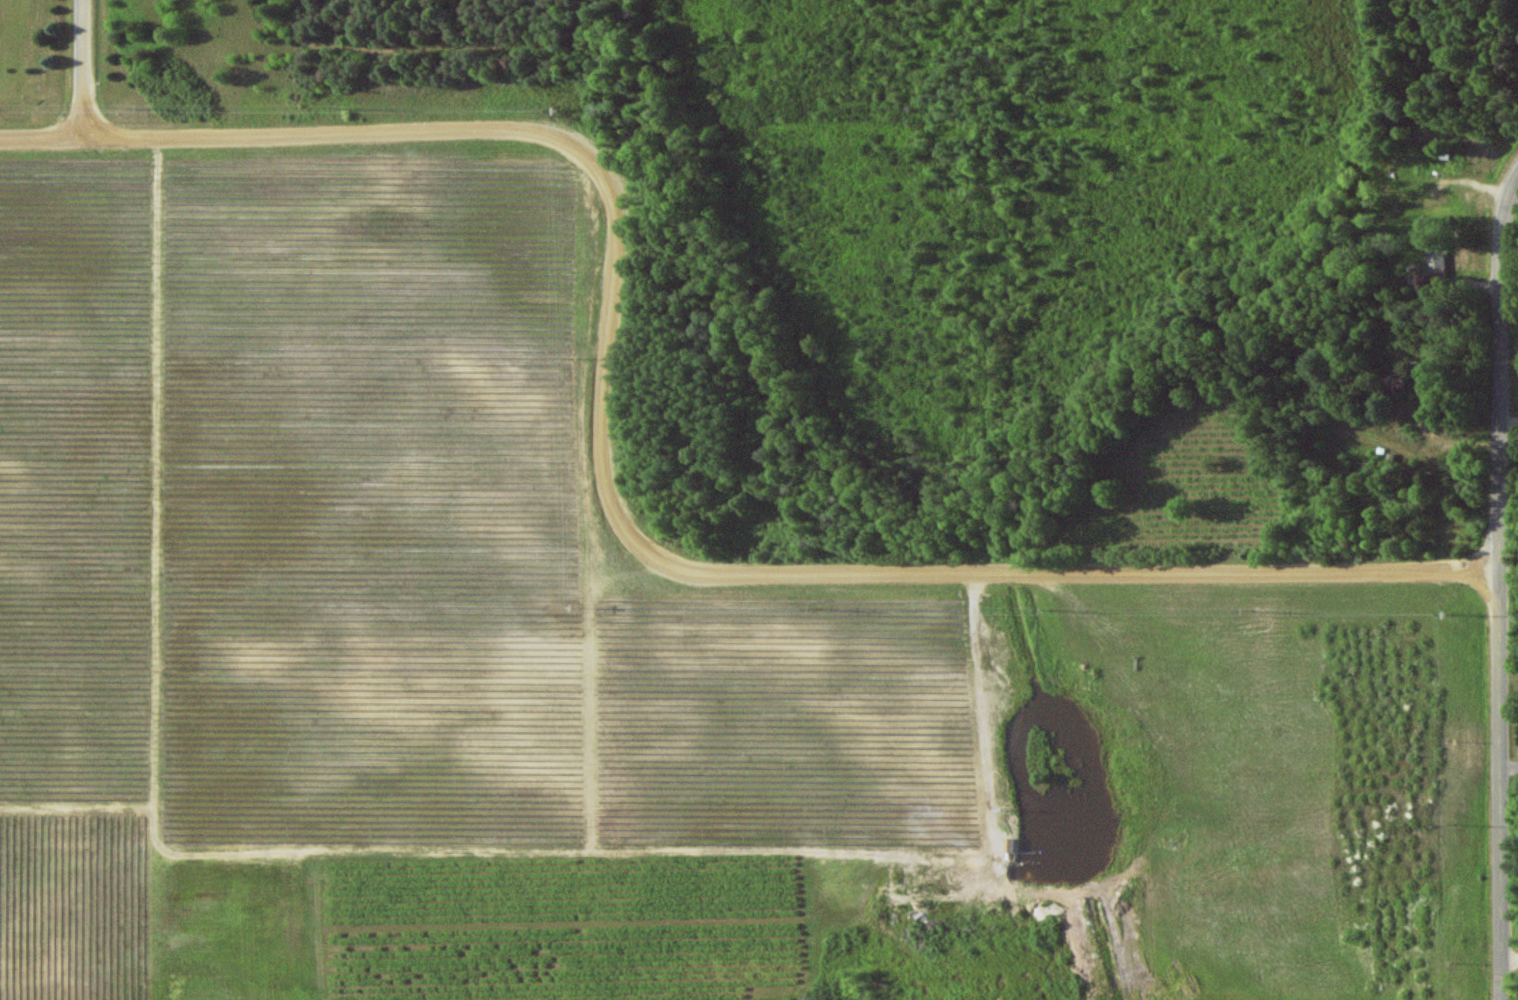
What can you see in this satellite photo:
road: (84, 68)
building: (1435, 261)
road: (1464, 286)
building: (1391, 378)
road: (606, 482)
road: (1502, 589)
road: (1510, 958)

